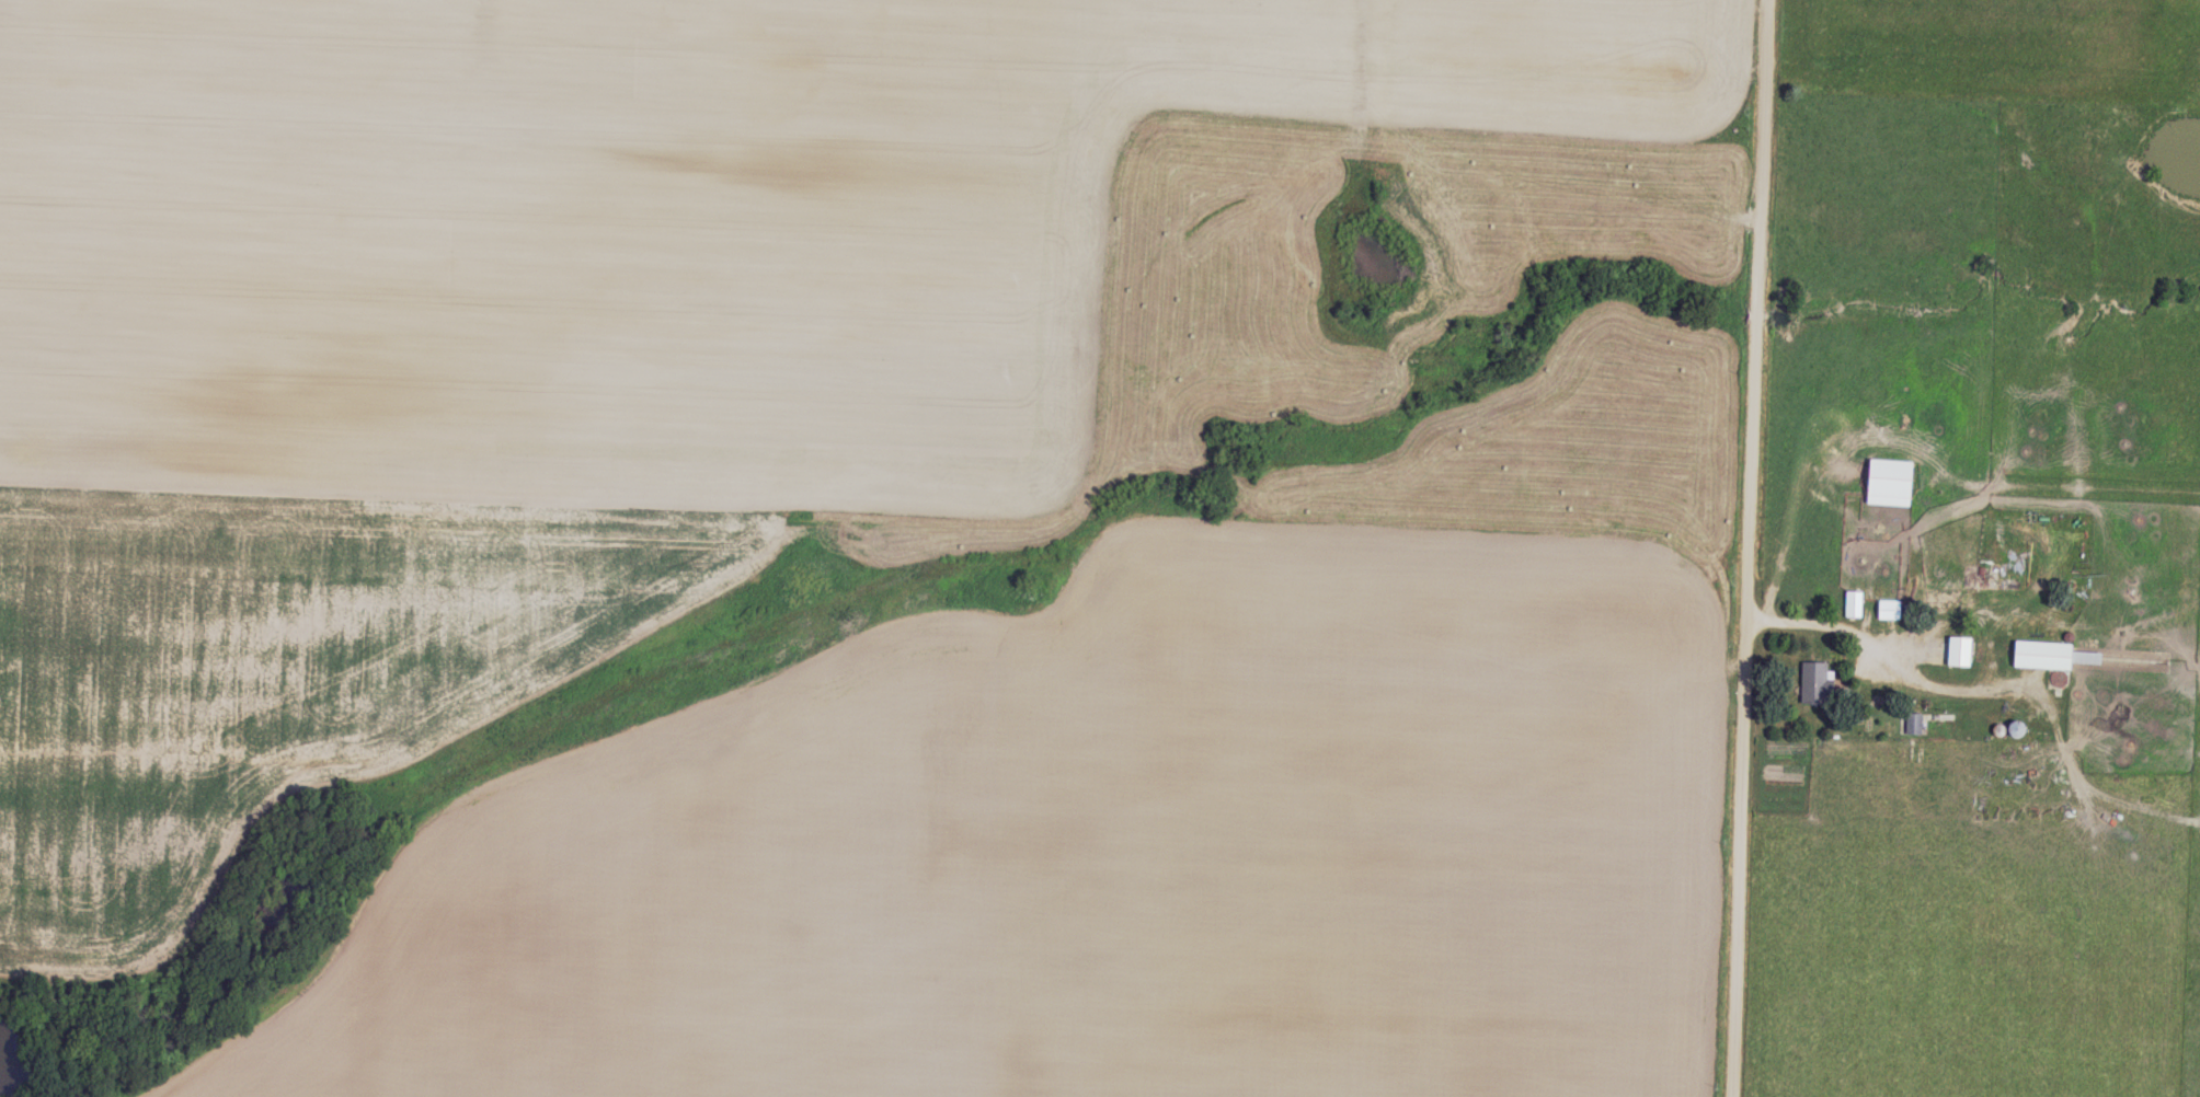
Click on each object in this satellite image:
building: (1888, 478)
road: (1791, 531)
road: (1751, 548)
building: (1853, 600)
building: (1958, 648)
building: (2049, 651)
road: (1891, 655)
building: (1815, 679)
building: (1913, 720)

